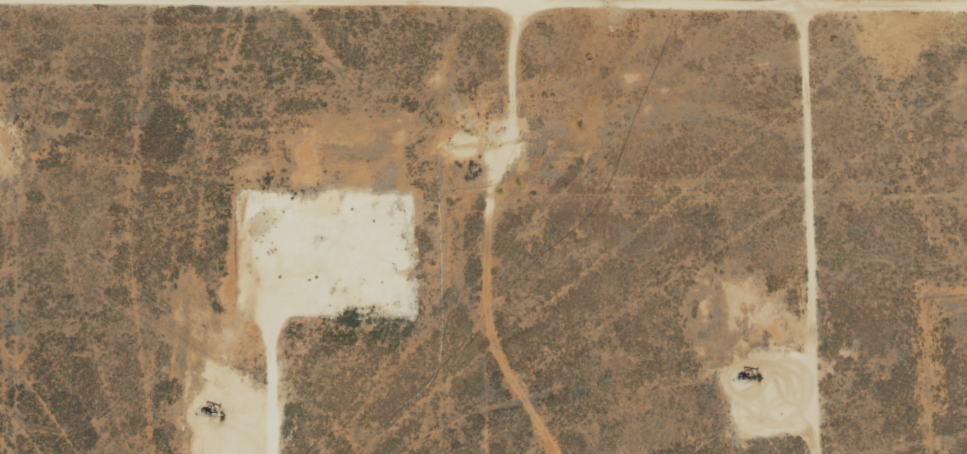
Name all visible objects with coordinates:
road: (262, 18)
road: (504, 230)

